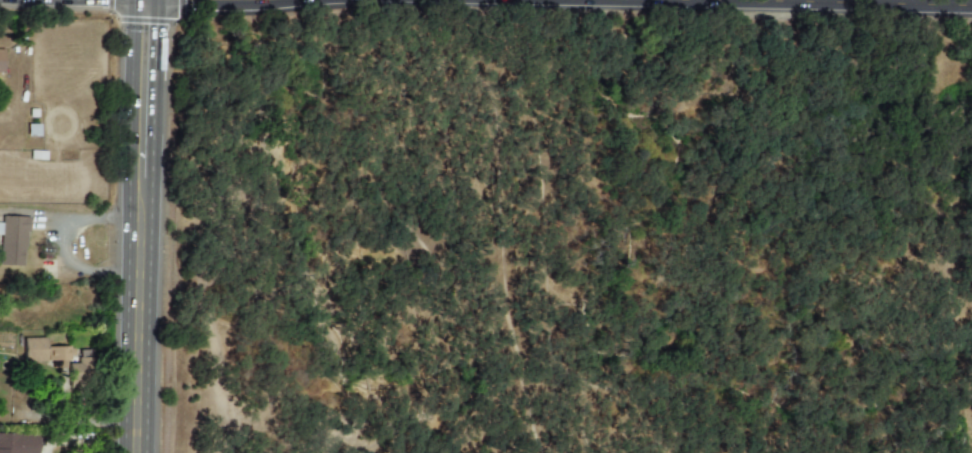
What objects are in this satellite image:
road: (816, 3)
road: (910, 3)
road: (923, 3)
traffic signals: (157, 35)
building: (0, 60)
road: (130, 117)
road: (154, 118)
road: (75, 216)
building: (13, 240)
park: (571, 241)
road: (78, 267)
road: (137, 343)
building: (56, 356)
building: (18, 443)

